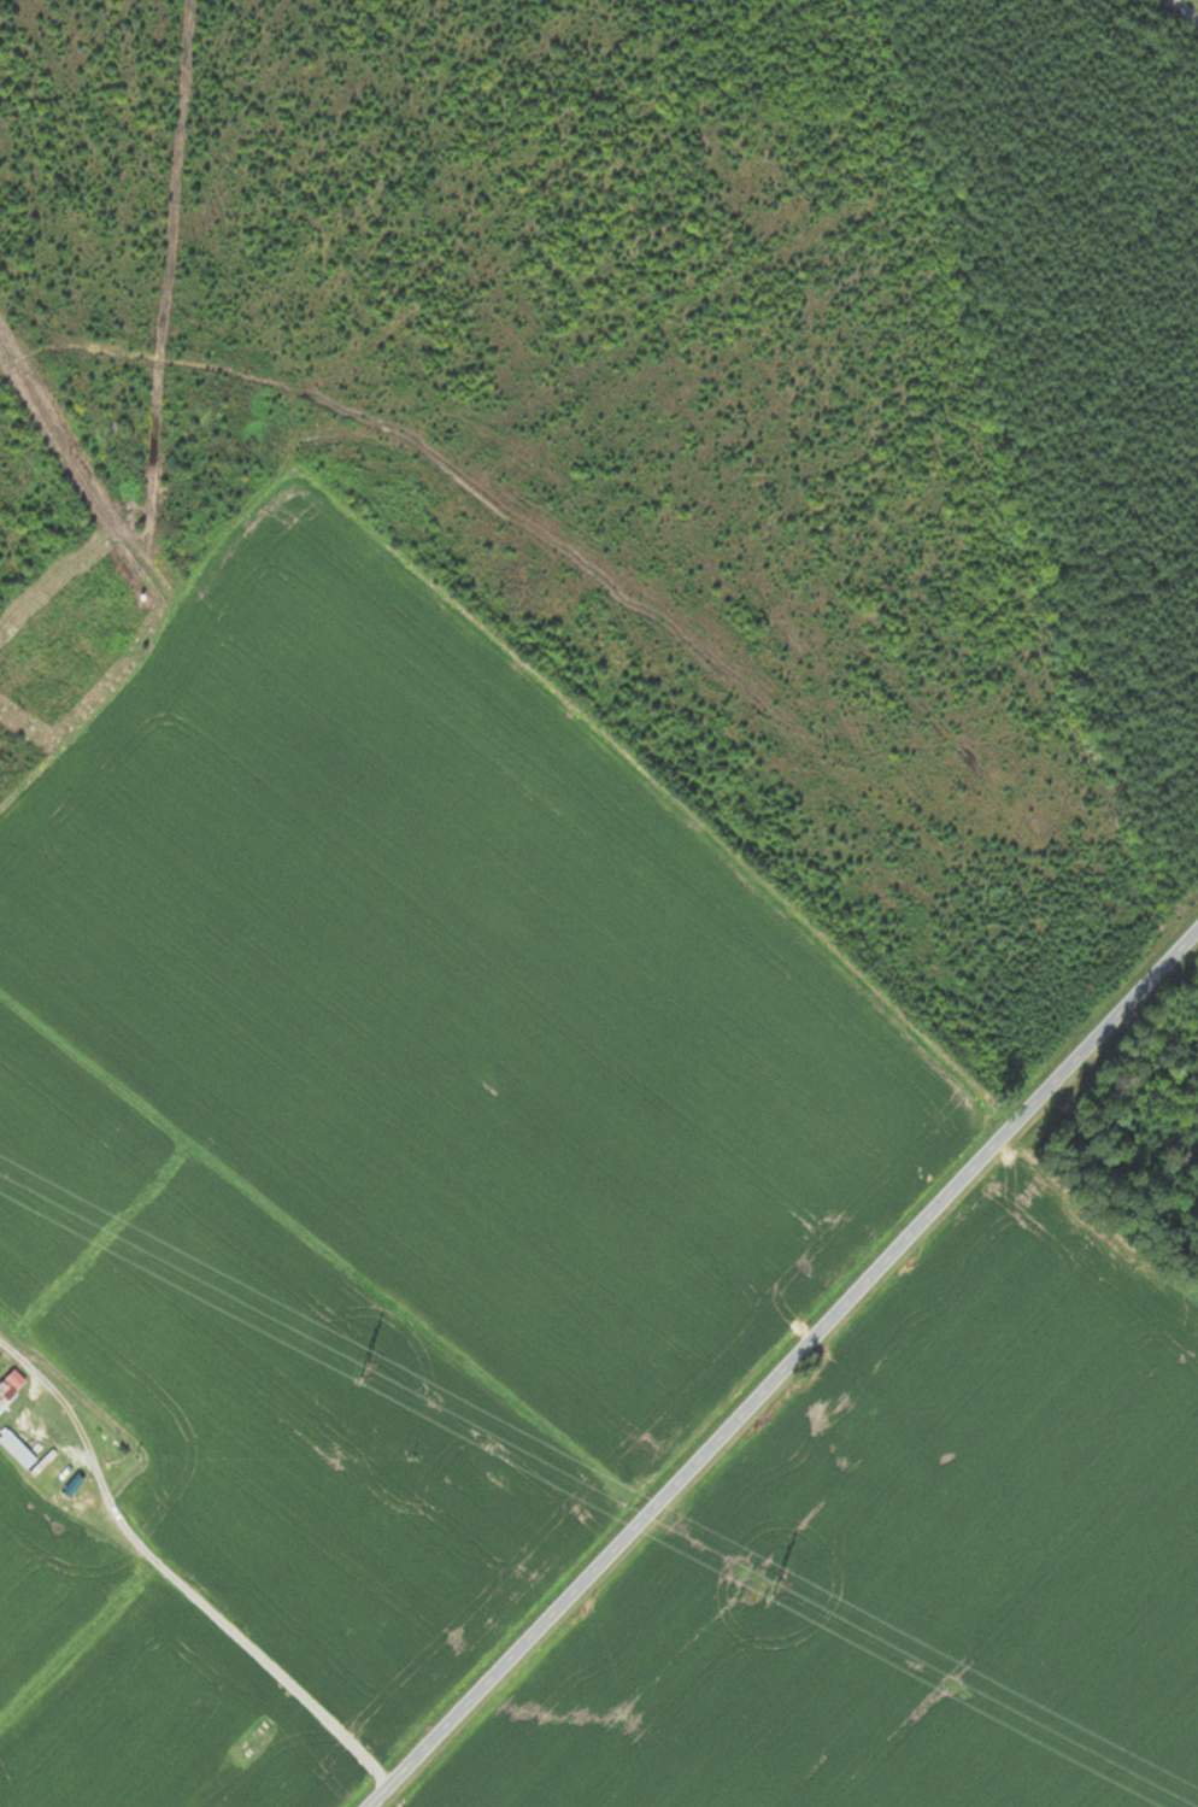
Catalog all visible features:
power tower: (368, 1369)
road: (783, 1371)
building: (12, 1387)
building: (18, 1449)
building: (75, 1480)
road: (174, 1582)
power tower: (775, 1590)

